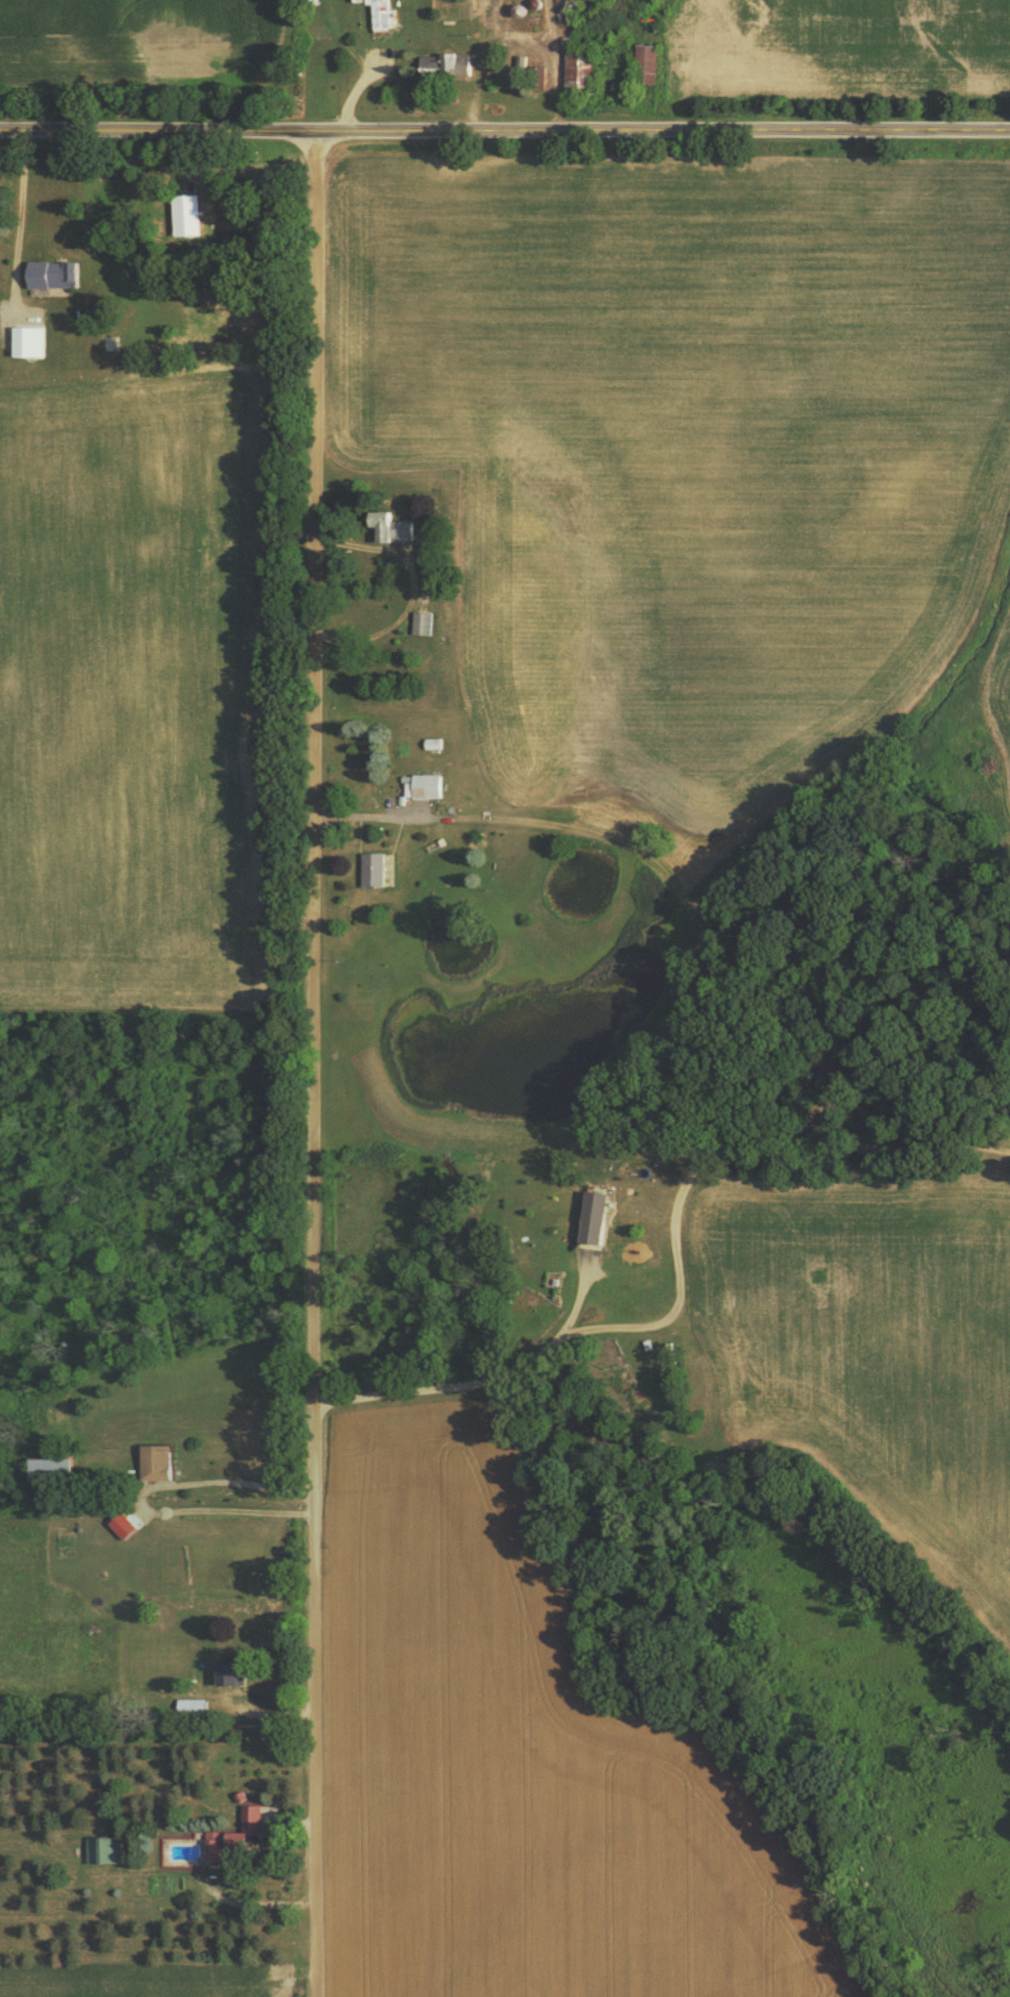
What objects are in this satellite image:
building: (382, 13)
building: (646, 62)
building: (451, 63)
road: (504, 134)
building: (185, 213)
building: (52, 273)
building: (29, 340)
building: (391, 526)
building: (421, 622)
building: (423, 785)
building: (373, 869)
road: (323, 1065)
building: (593, 1215)
building: (155, 1460)
building: (49, 1464)
building: (124, 1522)
building: (225, 1672)
building: (190, 1707)
building: (236, 1834)
building: (104, 1849)

